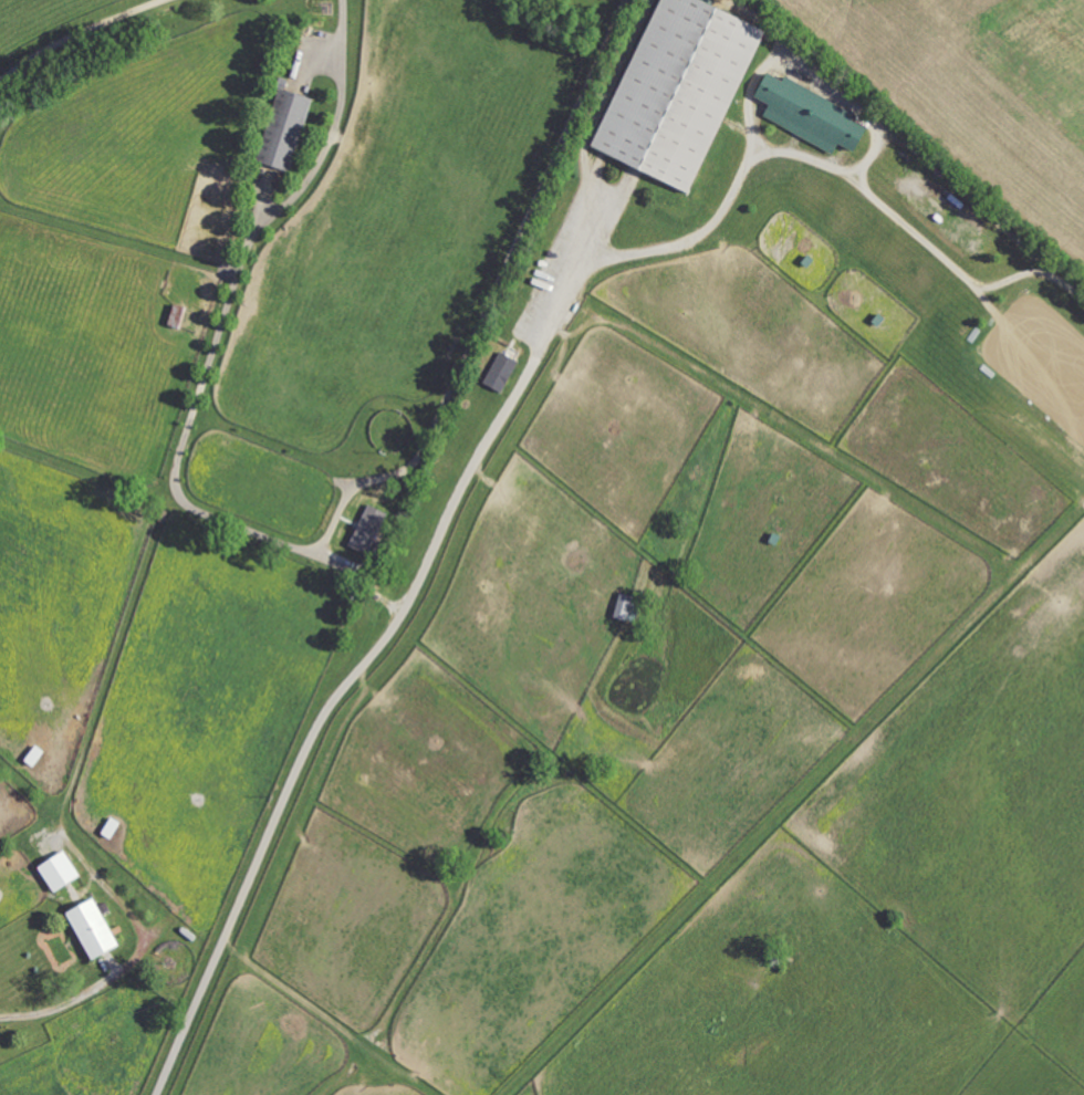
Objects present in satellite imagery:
road: (77, 36)
building: (685, 90)
building: (814, 115)
building: (288, 131)
road: (334, 131)
building: (503, 373)
road: (508, 409)
building: (627, 607)
building: (63, 873)
building: (97, 930)
road: (85, 993)

